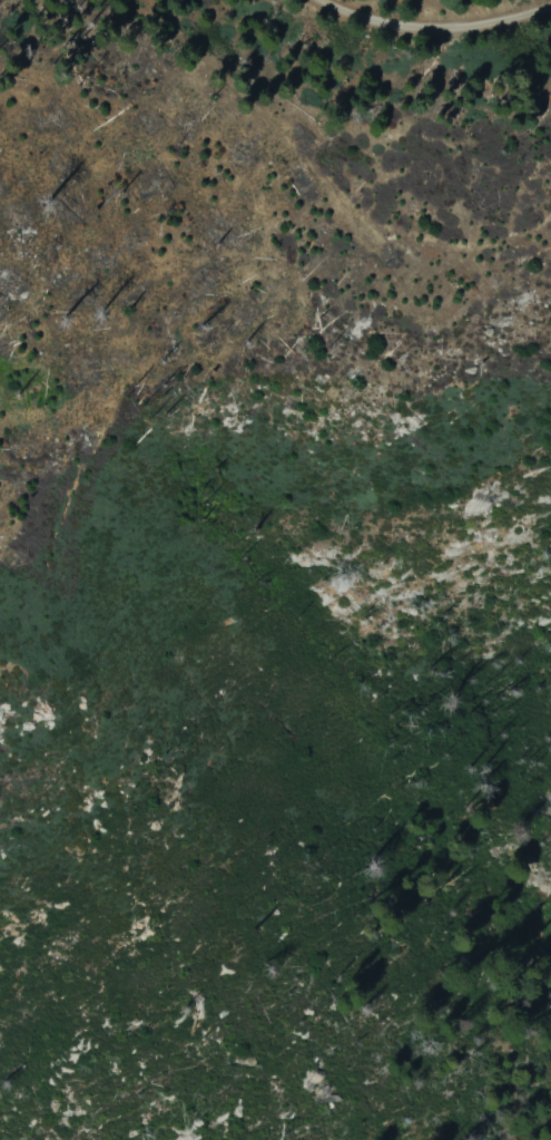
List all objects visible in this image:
road: (433, 27)

